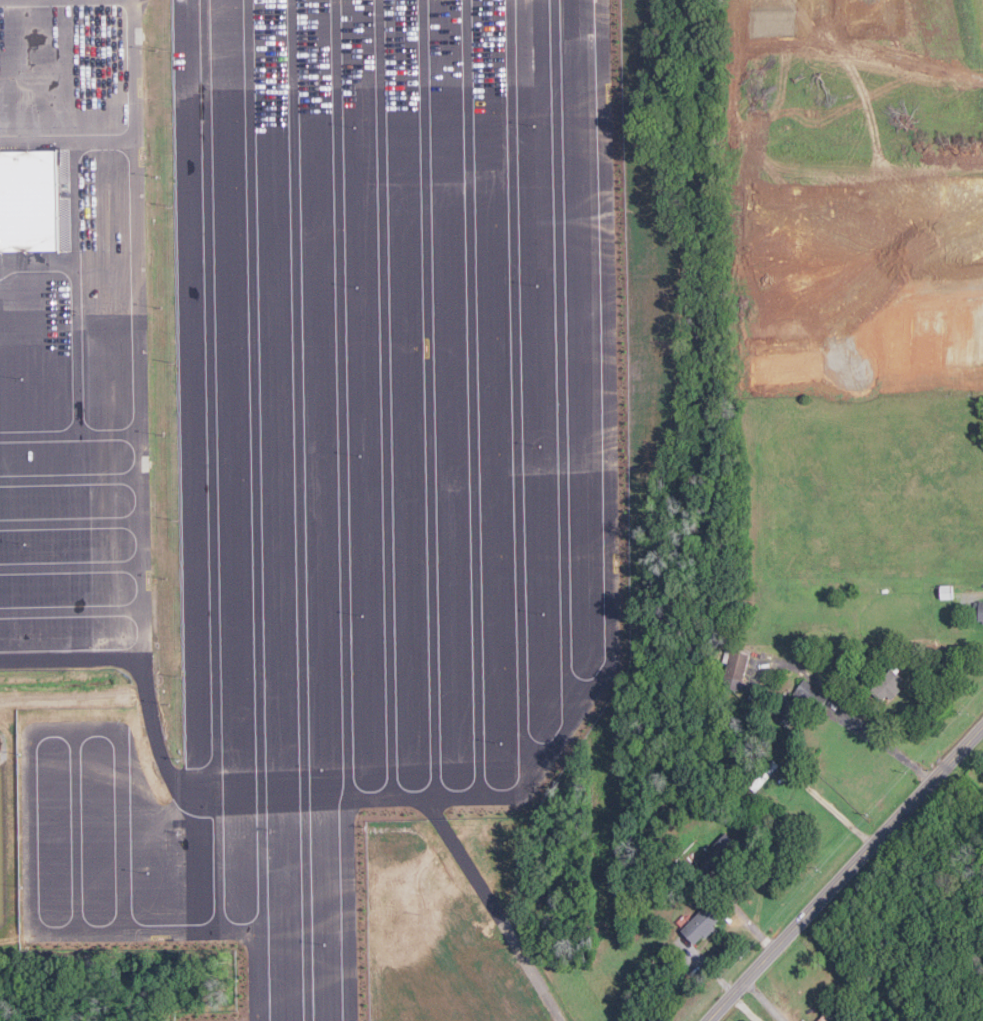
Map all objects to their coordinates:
road: (903, 99)
road: (826, 181)
railway: (474, 234)
road: (907, 289)
road: (132, 329)
road: (66, 330)
road: (268, 512)
building: (980, 611)
road: (70, 659)
road: (944, 663)
building: (734, 668)
road: (225, 676)
building: (887, 684)
building: (800, 702)
road: (848, 715)
road: (835, 806)
road: (338, 842)
building: (717, 853)
road: (845, 872)
building: (700, 924)

